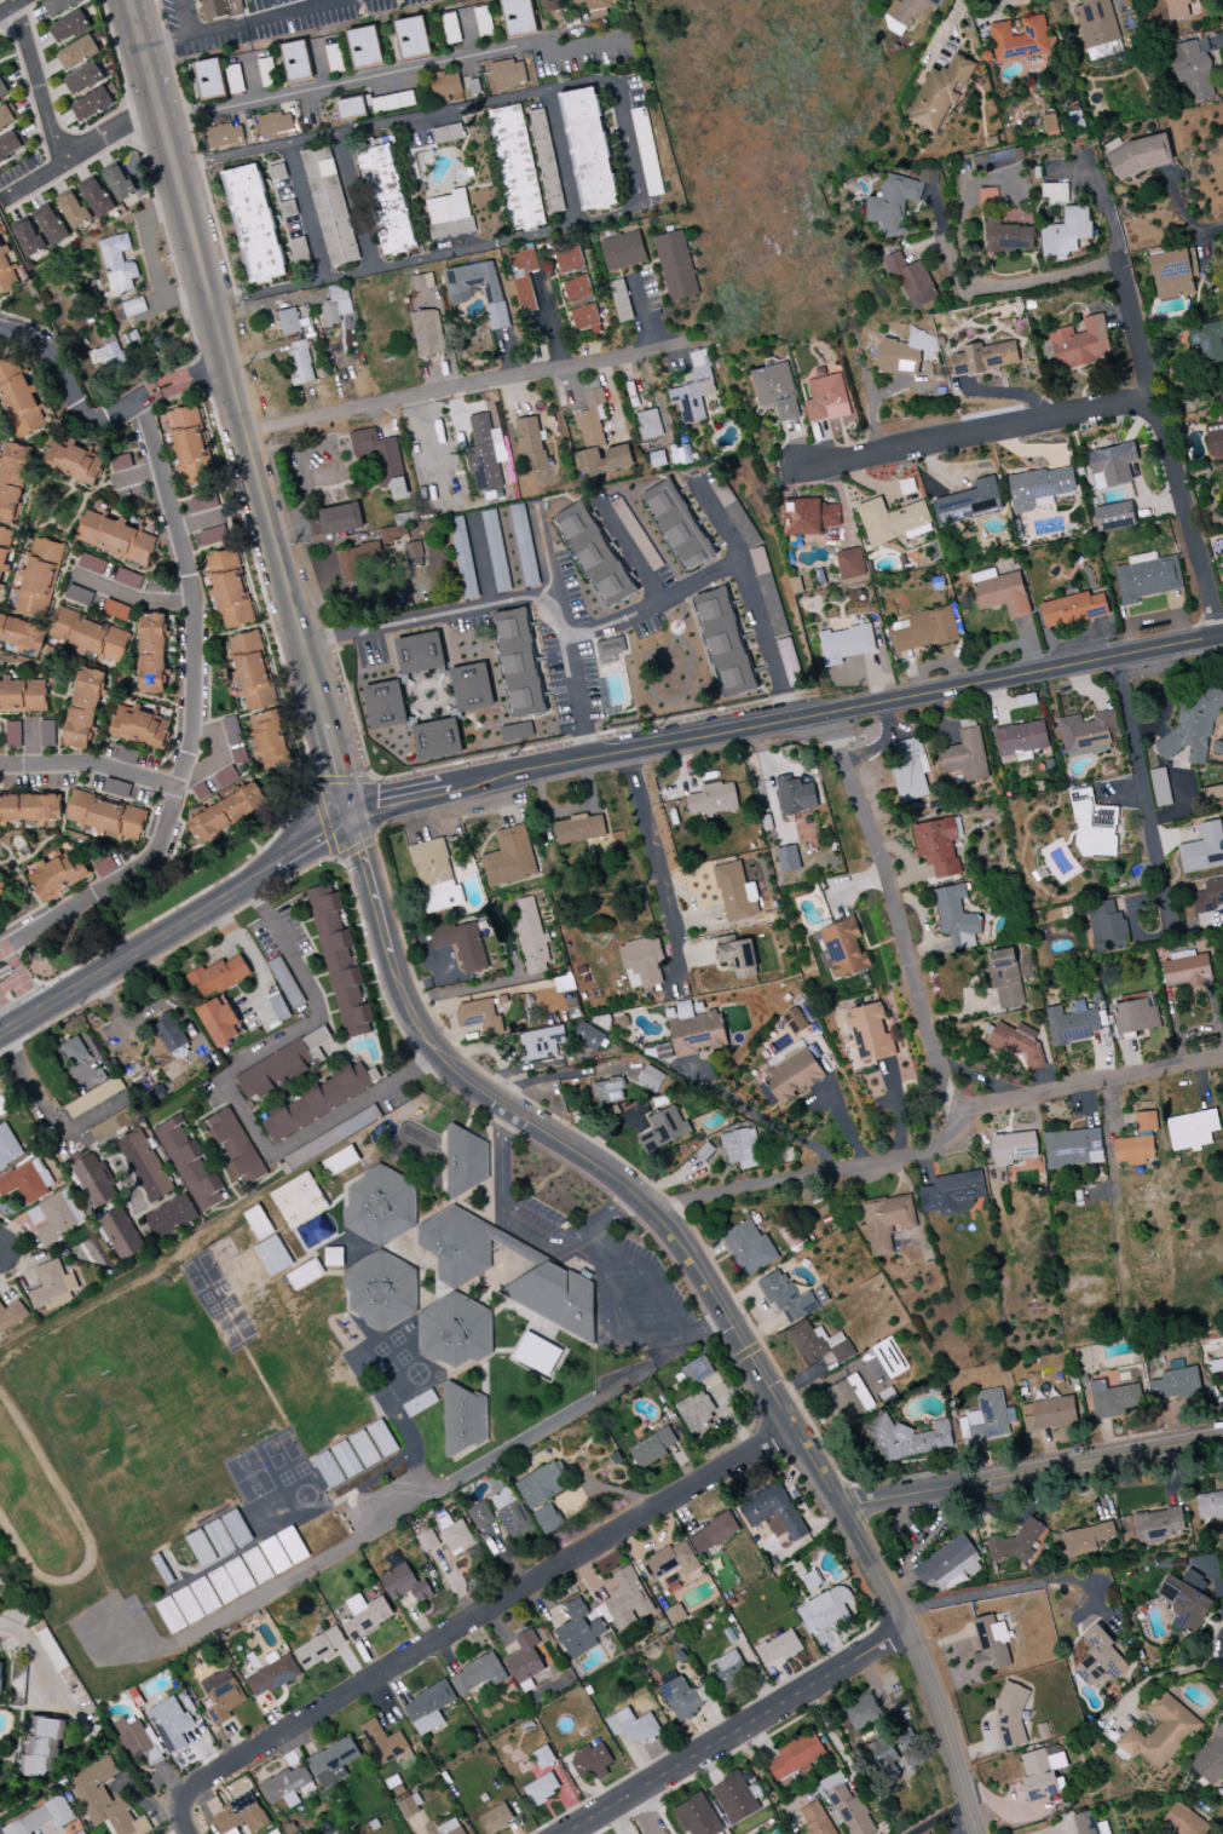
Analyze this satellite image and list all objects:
road: (11, 6)
building: (59, 6)
building: (595, 6)
building: (220, 8)
building: (1177, 10)
building: (908, 13)
road: (184, 17)
building: (518, 17)
road: (243, 22)
building: (1096, 23)
building: (69, 27)
road: (945, 29)
building: (413, 39)
building: (1020, 40)
road: (1219, 41)
building: (364, 47)
building: (77, 53)
building: (296, 62)
building: (1193, 69)
road: (400, 73)
building: (506, 75)
building: (83, 79)
building: (209, 79)
road: (615, 80)
road: (42, 82)
building: (444, 86)
building: (939, 94)
building: (92, 104)
building: (376, 104)
building: (7, 117)
building: (1050, 123)
building: (275, 125)
building: (448, 133)
building: (225, 136)
building: (11, 145)
building: (588, 149)
road: (258, 151)
road: (79, 154)
building: (1140, 156)
building: (998, 159)
building: (546, 161)
building: (515, 167)
building: (123, 182)
road: (1102, 196)
building: (987, 197)
building: (97, 199)
building: (386, 200)
road: (357, 201)
building: (896, 201)
building: (329, 206)
building: (74, 211)
road: (305, 212)
road: (1184, 214)
building: (449, 215)
building: (254, 224)
building: (51, 225)
building: (1067, 231)
building: (1009, 237)
building: (29, 238)
building: (623, 251)
road: (432, 255)
building: (569, 260)
building: (117, 264)
building: (675, 266)
building: (1171, 274)
road: (976, 275)
building: (524, 278)
building: (422, 282)
building: (912, 282)
road: (158, 286)
road: (294, 286)
building: (460, 294)
building: (581, 304)
building: (336, 305)
building: (133, 306)
building: (289, 321)
building: (427, 333)
building: (1210, 341)
building: (1080, 344)
building: (905, 353)
building: (106, 357)
building: (985, 358)
building: (300, 362)
road: (180, 375)
road: (178, 381)
road: (466, 384)
road: (185, 385)
building: (693, 390)
building: (775, 391)
building: (1222, 396)
building: (826, 398)
building: (18, 399)
building: (650, 424)
road: (980, 435)
building: (1215, 438)
building: (598, 439)
building: (531, 443)
building: (190, 447)
road: (1166, 452)
building: (485, 454)
building: (681, 455)
building: (381, 460)
building: (73, 461)
building: (1112, 466)
building: (1222, 467)
building: (12, 481)
building: (1039, 487)
road: (264, 501)
building: (968, 504)
building: (1114, 517)
building: (338, 521)
building: (893, 521)
building: (677, 525)
building: (743, 527)
building: (393, 533)
building: (636, 534)
building: (212, 536)
building: (114, 537)
building: (524, 545)
building: (496, 551)
building: (4, 552)
road: (633, 552)
building: (415, 553)
building: (595, 554)
road: (544, 557)
building: (463, 558)
building: (92, 563)
building: (360, 563)
building: (850, 567)
building: (1147, 577)
building: (38, 579)
building: (230, 588)
building: (1000, 592)
road: (751, 594)
road: (132, 599)
road: (357, 599)
road: (533, 603)
building: (771, 603)
building: (1073, 610)
road: (195, 623)
building: (924, 631)
building: (23, 634)
building: (88, 636)
building: (725, 643)
building: (846, 644)
building: (611, 646)
building: (420, 652)
building: (152, 654)
building: (519, 663)
building: (252, 671)
building: (472, 688)
road: (577, 694)
building: (23, 695)
road: (837, 703)
building: (386, 705)
building: (85, 708)
building: (139, 726)
building: (1193, 726)
building: (231, 730)
building: (517, 731)
building: (47, 734)
building: (1086, 734)
building: (13, 735)
building: (1021, 738)
building: (270, 740)
building: (438, 740)
building: (965, 753)
road: (218, 754)
road: (91, 766)
building: (910, 770)
building: (1159, 787)
building: (1211, 793)
building: (795, 795)
road: (1146, 799)
building: (713, 800)
road: (404, 803)
building: (30, 809)
building: (227, 813)
building: (105, 816)
traffic signals: (356, 822)
building: (1094, 827)
building: (579, 829)
road: (315, 846)
building: (938, 846)
building: (1204, 849)
building: (509, 858)
building: (788, 859)
road: (659, 863)
building: (432, 866)
building: (59, 875)
building: (737, 892)
building: (1208, 897)
road: (899, 913)
building: (1107, 927)
building: (531, 937)
road: (1154, 939)
building: (462, 944)
building: (843, 948)
road: (137, 952)
building: (735, 955)
building: (639, 964)
building: (341, 965)
building: (1185, 972)
building: (218, 977)
building: (1005, 978)
building: (564, 984)
road: (488, 987)
road: (15, 988)
building: (479, 1016)
building: (1135, 1017)
building: (794, 1021)
building: (219, 1022)
building: (1072, 1025)
road: (419, 1030)
building: (169, 1033)
building: (870, 1034)
building: (588, 1036)
building: (542, 1042)
building: (1017, 1042)
building: (75, 1051)
building: (279, 1067)
building: (792, 1073)
building: (651, 1079)
road: (1091, 1082)
road: (225, 1088)
building: (607, 1091)
building: (321, 1102)
road: (50, 1110)
building: (1146, 1121)
building: (667, 1126)
road: (772, 1127)
building: (1192, 1131)
building: (235, 1145)
building: (7, 1148)
building: (742, 1148)
building: (1014, 1148)
building: (1073, 1149)
building: (1133, 1150)
building: (340, 1161)
building: (466, 1161)
building: (144, 1166)
building: (190, 1166)
road: (812, 1172)
building: (27, 1180)
building: (96, 1180)
building: (952, 1194)
building: (299, 1201)
building: (380, 1206)
building: (171, 1217)
road: (529, 1220)
building: (885, 1221)
building: (258, 1223)
building: (121, 1234)
road: (593, 1242)
building: (465, 1246)
building: (749, 1248)
building: (273, 1255)
road: (601, 1264)
building: (305, 1275)
building: (52, 1287)
building: (381, 1289)
building: (556, 1295)
building: (786, 1297)
building: (820, 1297)
parking lot: (639, 1300)
building: (11, 1316)
road: (705, 1327)
building: (454, 1332)
building: (819, 1344)
building: (537, 1353)
building: (1222, 1366)
building: (697, 1372)
building: (1175, 1384)
road: (774, 1395)
building: (849, 1398)
building: (1113, 1399)
building: (697, 1413)
building: (1049, 1414)
building: (987, 1418)
building: (465, 1419)
building: (906, 1438)
building: (652, 1448)
building: (356, 1454)
road: (1032, 1473)
building: (541, 1485)
parking lot: (392, 1493)
building: (1210, 1506)
building: (772, 1510)
building: (509, 1511)
building: (479, 1514)
building: (548, 1519)
building: (1158, 1525)
building: (237, 1528)
building: (714, 1533)
building: (455, 1535)
building: (219, 1539)
building: (1086, 1539)
building: (427, 1541)
building: (1015, 1543)
road: (348, 1545)
building: (293, 1546)
building: (201, 1548)
building: (275, 1556)
building: (671, 1562)
building: (947, 1564)
building: (258, 1565)
building: (231, 1580)
building: (404, 1583)
road: (1011, 1588)
building: (204, 1596)
building: (627, 1599)
building: (1187, 1599)
building: (188, 1605)
road: (494, 1608)
building: (825, 1610)
building: (675, 1614)
building: (171, 1615)
building: (367, 1616)
parking lot: (115, 1628)
building: (579, 1629)
building: (991, 1645)
building: (321, 1648)
building: (778, 1648)
building: (527, 1657)
building: (1100, 1658)
road: (42, 1663)
building: (0, 1673)
building: (729, 1673)
building: (273, 1674)
building: (478, 1674)
building: (221, 1696)
building: (683, 1696)
building: (428, 1708)
building: (861, 1712)
building: (1011, 1712)
building: (171, 1724)
building: (634, 1726)
road: (735, 1732)
building: (1161, 1732)
building: (137, 1740)
building: (383, 1742)
building: (41, 1746)
building: (796, 1755)
building: (543, 1758)
building: (1210, 1760)
building: (334, 1761)
building: (592, 1761)
building: (887, 1761)
building: (1040, 1773)
building: (288, 1787)
building: (542, 1789)
building: (734, 1799)
building: (105, 1800)
building: (409, 1806)
road: (183, 1811)
building: (852, 1812)
road: (645, 1813)
building: (241, 1816)
building: (698, 1817)
building: (41, 1818)
building: (496, 1818)
building: (817, 1819)
building: (1184, 1822)
building: (1085, 1823)
building: (445, 1828)
building: (1102, 1828)

